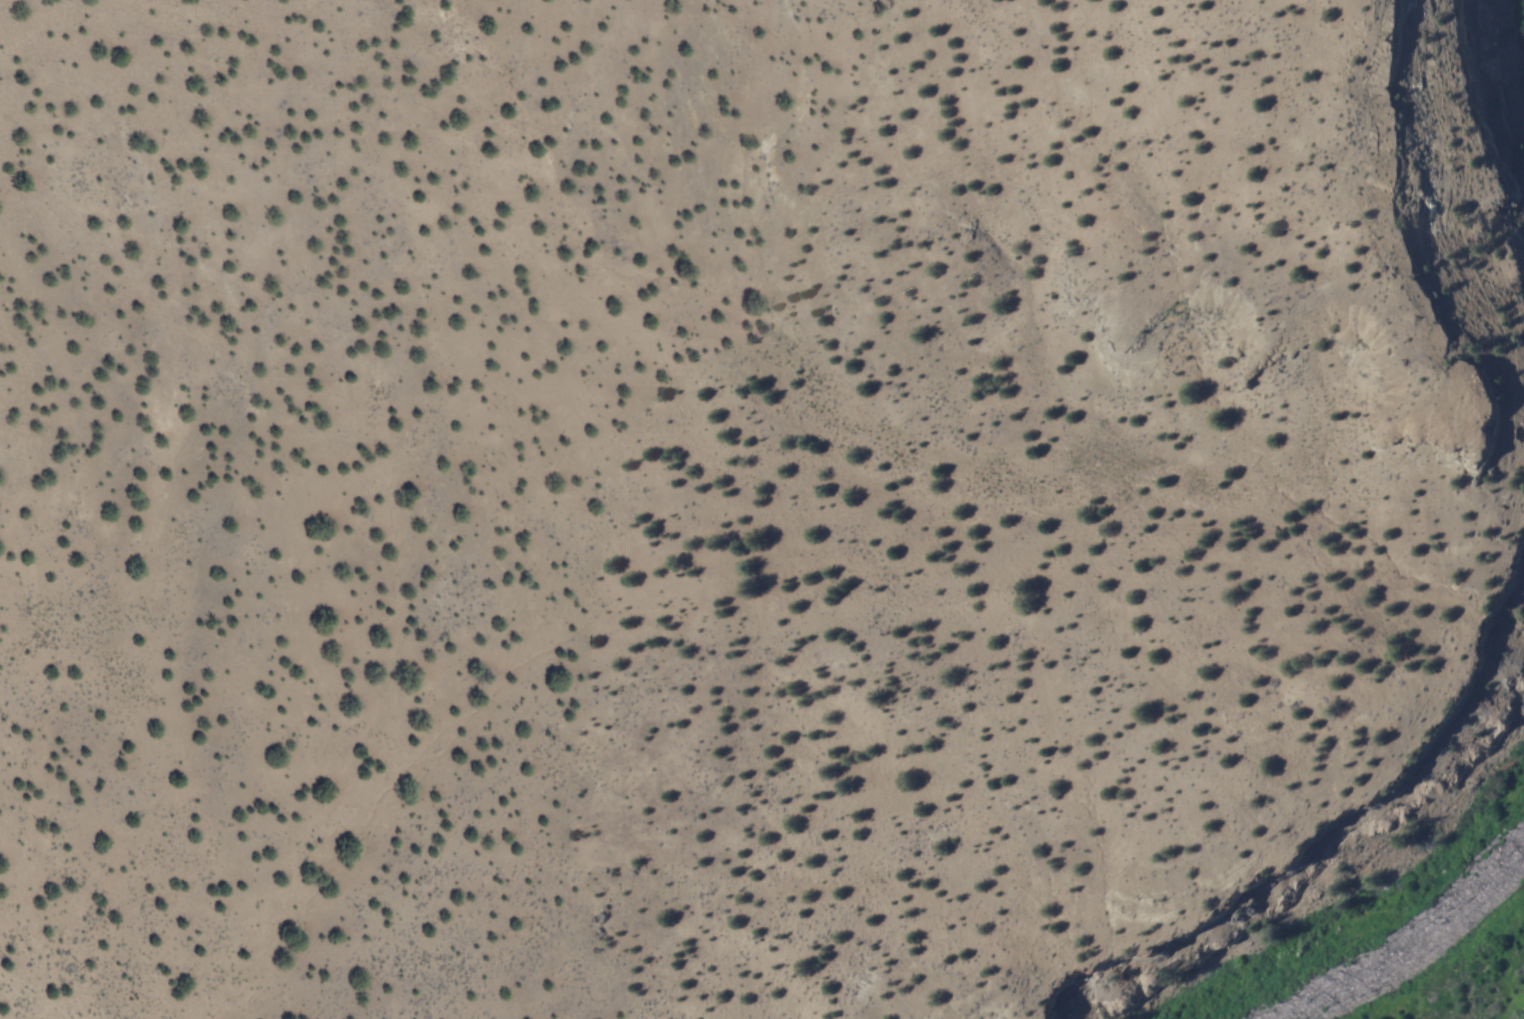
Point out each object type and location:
river: (1407, 938)

